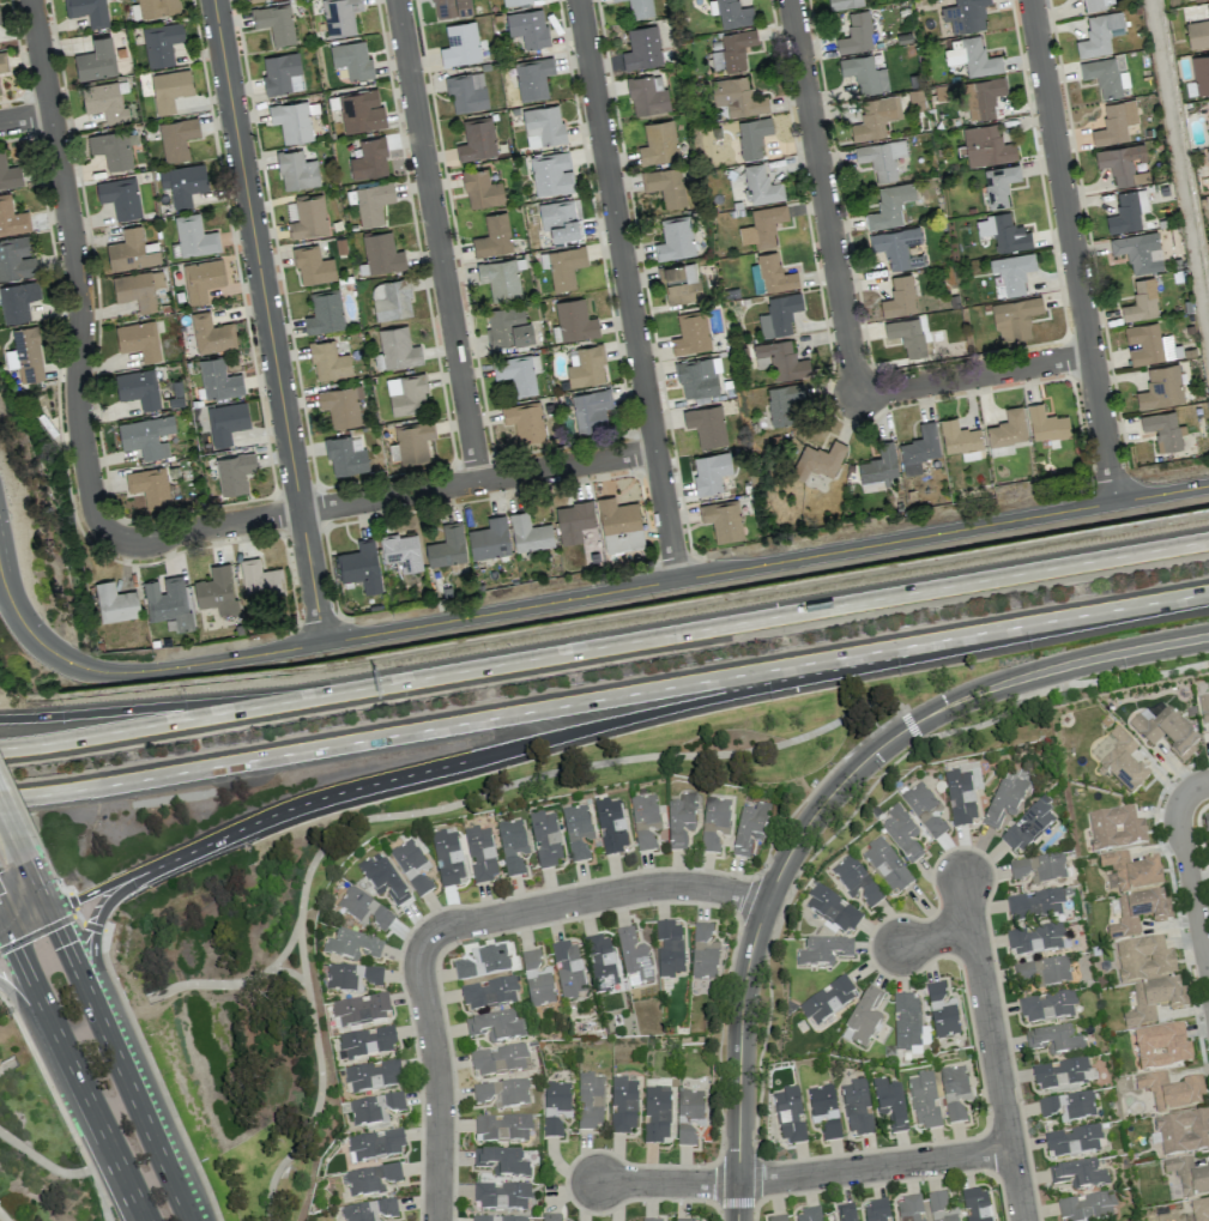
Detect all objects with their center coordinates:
building: (252, 0)
building: (615, 0)
building: (514, 1)
building: (844, 4)
building: (1096, 4)
building: (157, 7)
building: (451, 7)
building: (640, 8)
building: (87, 11)
building: (733, 13)
building: (965, 14)
building: (340, 17)
building: (0, 23)
building: (274, 23)
building: (528, 28)
building: (856, 34)
building: (1100, 34)
building: (1198, 34)
building: (161, 43)
building: (461, 44)
building: (642, 48)
building: (732, 50)
building: (973, 58)
building: (352, 59)
building: (96, 60)
building: (2, 61)
building: (282, 73)
building: (1201, 73)
building: (864, 74)
building: (1106, 77)
building: (533, 78)
building: (169, 89)
building: (466, 91)
building: (647, 95)
building: (737, 97)
building: (981, 97)
building: (104, 102)
building: (361, 110)
building: (875, 117)
road: (26, 120)
building: (1208, 120)
building: (291, 121)
building: (1116, 122)
building: (543, 125)
building: (752, 137)
building: (176, 138)
building: (477, 139)
building: (658, 143)
building: (985, 145)
building: (113, 147)
building: (1208, 155)
building: (881, 157)
building: (369, 159)
building: (1123, 163)
building: (296, 170)
building: (8, 173)
building: (551, 174)
building: (182, 183)
building: (665, 185)
building: (999, 185)
building: (761, 186)
building: (480, 189)
building: (120, 197)
building: (373, 203)
building: (889, 206)
building: (1128, 211)
building: (308, 216)
building: (12, 218)
building: (560, 219)
building: (762, 226)
building: (1003, 231)
building: (492, 235)
building: (194, 236)
building: (675, 238)
road: (439, 241)
building: (897, 247)
building: (132, 250)
road: (1072, 250)
building: (1137, 250)
building: (381, 253)
building: (17, 258)
building: (313, 265)
building: (564, 266)
road: (78, 267)
building: (774, 273)
building: (1010, 274)
building: (201, 278)
building: (501, 278)
building: (679, 282)
building: (138, 289)
road: (629, 290)
building: (899, 297)
building: (17, 301)
building: (393, 301)
building: (1142, 301)
building: (325, 312)
building: (779, 314)
road: (844, 314)
building: (1015, 319)
building: (575, 320)
road: (268, 321)
building: (508, 326)
building: (211, 333)
building: (691, 333)
building: (909, 336)
building: (138, 339)
building: (1149, 344)
building: (398, 347)
building: (25, 355)
building: (780, 359)
building: (328, 361)
building: (587, 367)
building: (518, 371)
building: (697, 377)
building: (218, 379)
building: (138, 387)
building: (1161, 387)
building: (406, 394)
building: (781, 403)
building: (340, 405)
building: (591, 410)
building: (524, 419)
building: (225, 422)
building: (1046, 423)
building: (706, 424)
building: (1008, 428)
building: (1163, 430)
building: (146, 436)
building: (959, 436)
building: (413, 442)
building: (919, 448)
building: (345, 457)
building: (818, 460)
building: (878, 465)
building: (711, 471)
building: (234, 472)
building: (149, 486)
road: (377, 500)
building: (574, 520)
building: (723, 520)
building: (619, 525)
building: (528, 532)
building: (489, 538)
building: (447, 546)
building: (401, 551)
building: (359, 566)
building: (260, 579)
building: (216, 590)
road: (581, 597)
building: (167, 600)
building: (115, 602)
road: (772, 617)
road: (1058, 685)
road: (604, 697)
road: (167, 705)
building: (1204, 708)
road: (167, 723)
road: (911, 725)
building: (1165, 729)
building: (1124, 763)
road: (437, 767)
road: (1193, 788)
road: (482, 794)
building: (960, 798)
building: (1004, 802)
road: (821, 805)
building: (924, 810)
building: (645, 820)
building: (679, 820)
road: (7, 821)
building: (1205, 822)
building: (610, 826)
building: (1028, 826)
building: (749, 828)
building: (1116, 828)
building: (576, 832)
building: (901, 833)
building: (544, 839)
building: (512, 846)
road: (20, 850)
building: (479, 854)
building: (447, 857)
building: (411, 866)
building: (887, 866)
building: (1039, 868)
building: (1131, 871)
building: (382, 878)
road: (1199, 878)
building: (856, 881)
road: (1192, 890)
road: (591, 896)
building: (1034, 905)
building: (833, 908)
building: (364, 909)
traffic signals: (53, 913)
building: (1136, 913)
road: (776, 923)
park: (213, 932)
traffic signals: (11, 933)
road: (5, 935)
road: (935, 937)
building: (1035, 938)
building: (352, 945)
building: (669, 948)
building: (824, 951)
building: (703, 953)
road: (301, 954)
building: (633, 957)
building: (1144, 959)
building: (602, 961)
building: (483, 962)
road: (98, 967)
road: (1208, 968)
building: (568, 969)
building: (1042, 972)
building: (352, 977)
building: (537, 980)
building: (489, 993)
building: (827, 1001)
building: (1151, 1001)
building: (1047, 1007)
building: (361, 1009)
building: (941, 1013)
building: (863, 1018)
building: (906, 1021)
building: (496, 1026)
road: (109, 1039)
building: (1054, 1040)
building: (365, 1042)
building: (1161, 1046)
road: (992, 1048)
building: (500, 1059)
road: (7, 1064)
road: (68, 1065)
building: (1062, 1072)
building: (373, 1075)
road: (59, 1078)
road: (439, 1082)
road: (319, 1088)
building: (503, 1092)
building: (954, 1092)
building: (1171, 1092)
building: (588, 1100)
building: (821, 1100)
building: (924, 1100)
building: (890, 1104)
building: (623, 1105)
building: (1068, 1105)
building: (555, 1107)
building: (857, 1107)
building: (375, 1108)
building: (655, 1113)
building: (790, 1114)
building: (688, 1116)
building: (502, 1128)
building: (830, 1130)
building: (1183, 1131)
building: (1072, 1140)
building: (375, 1144)
park: (37, 1147)
road: (43, 1161)
building: (502, 1162)
road: (872, 1167)
building: (1078, 1173)
building: (1187, 1177)
road: (755, 1178)
building: (370, 1179)
road: (667, 1183)
road: (718, 1183)
road: (101, 1193)
building: (502, 1195)
road: (736, 1203)
building: (975, 1204)
building: (1086, 1207)
building: (939, 1208)
building: (909, 1209)
building: (369, 1210)
building: (876, 1210)
building: (1199, 1210)
road: (754, 1211)
building: (846, 1213)
building: (808, 1215)
building: (549, 1216)
road: (1, 1219)
building: (497, 1219)
building: (778, 1219)
building: (649, 1220)
building: (688, 1220)

